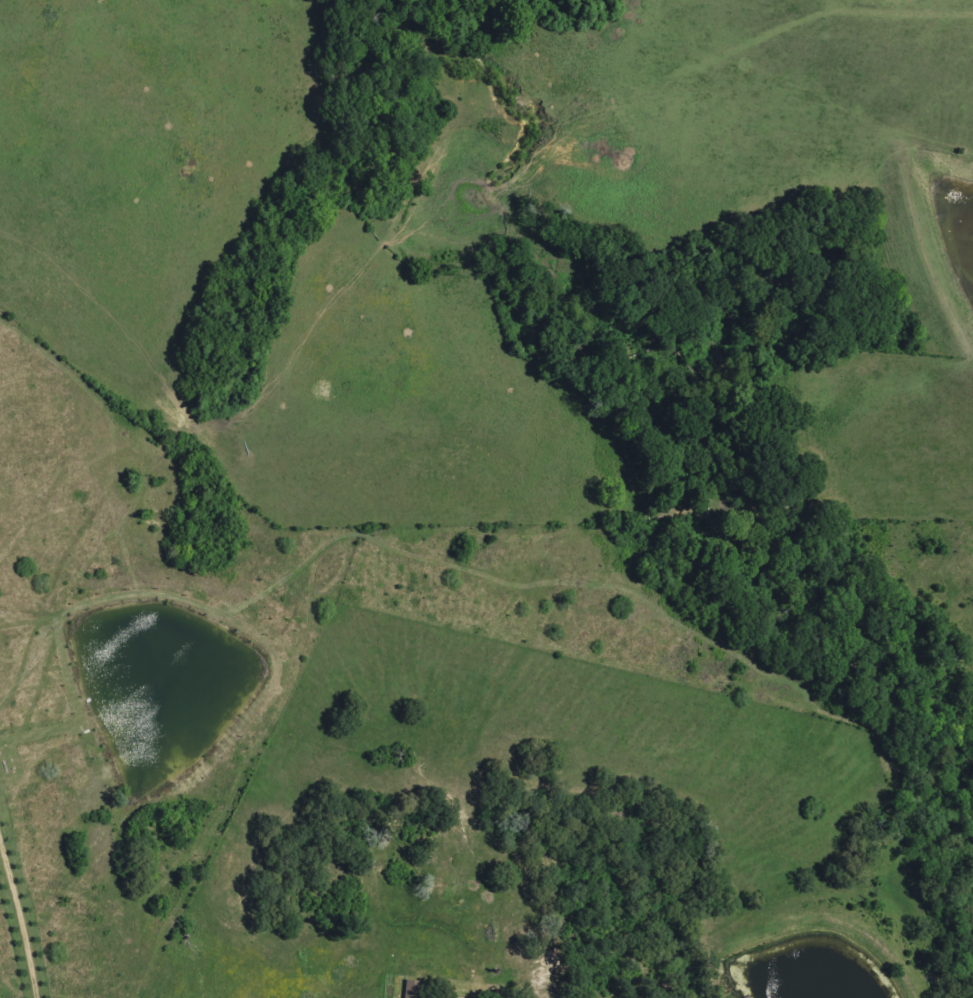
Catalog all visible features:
building: (414, 989)

